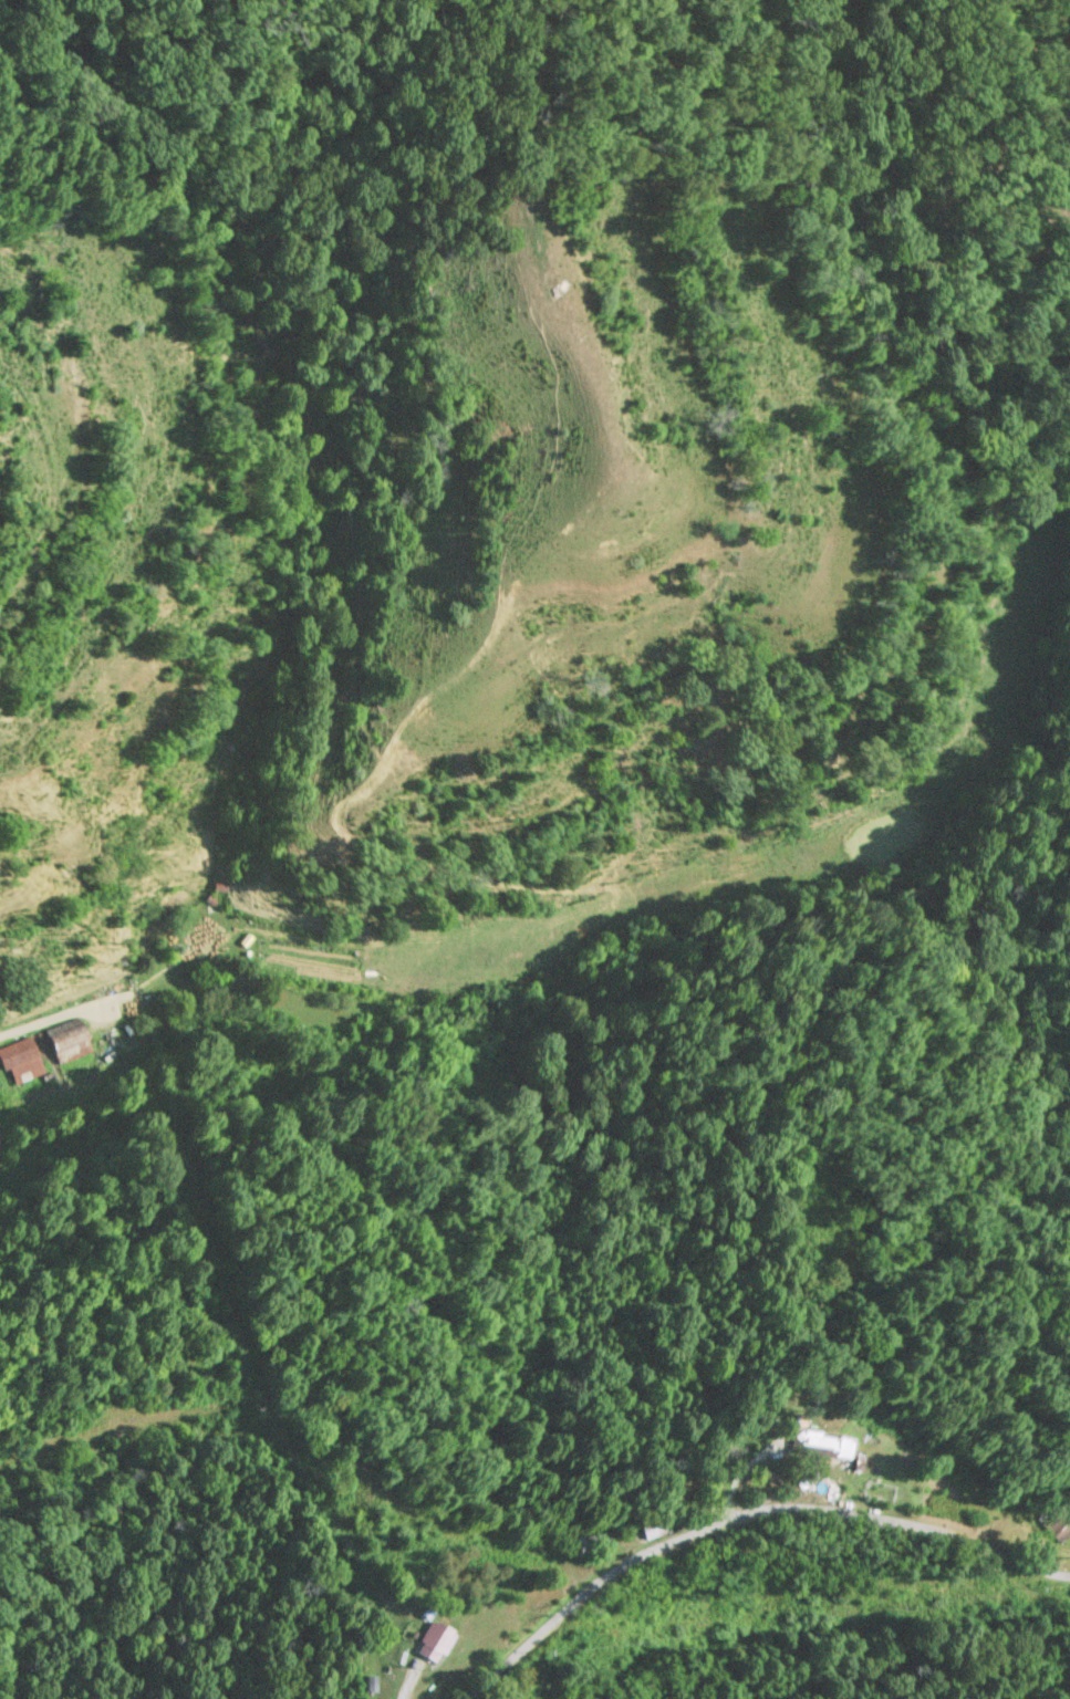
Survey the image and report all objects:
building: (205, 938)
road: (60, 1010)
building: (65, 1043)
building: (20, 1062)
building: (822, 1445)
road: (739, 1510)
building: (433, 1641)

